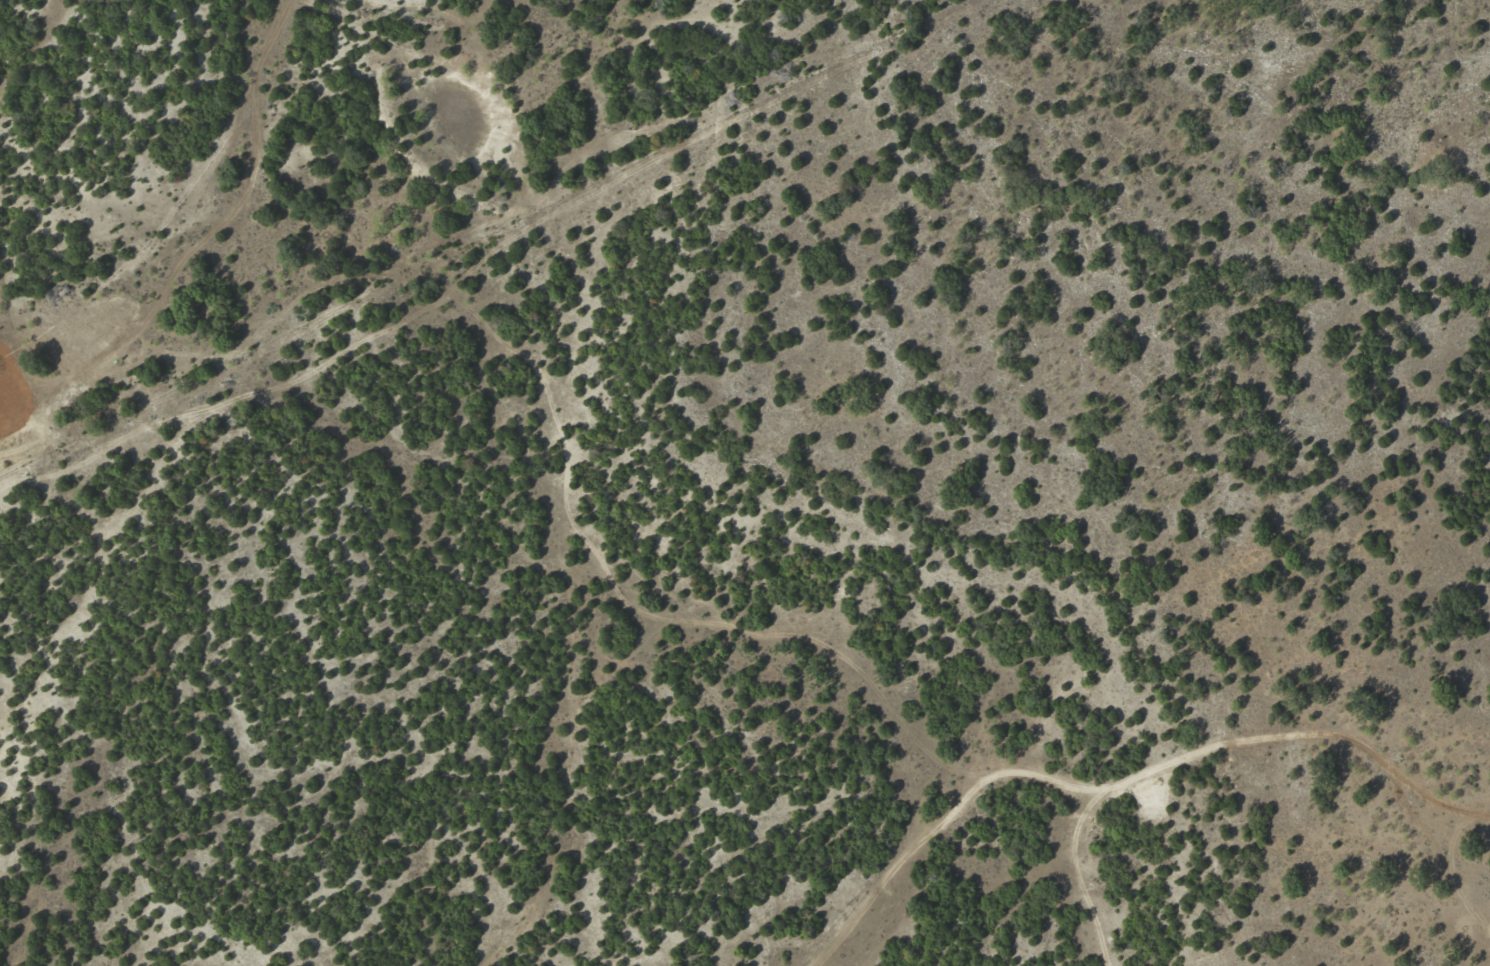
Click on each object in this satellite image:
road: (1169, 798)

